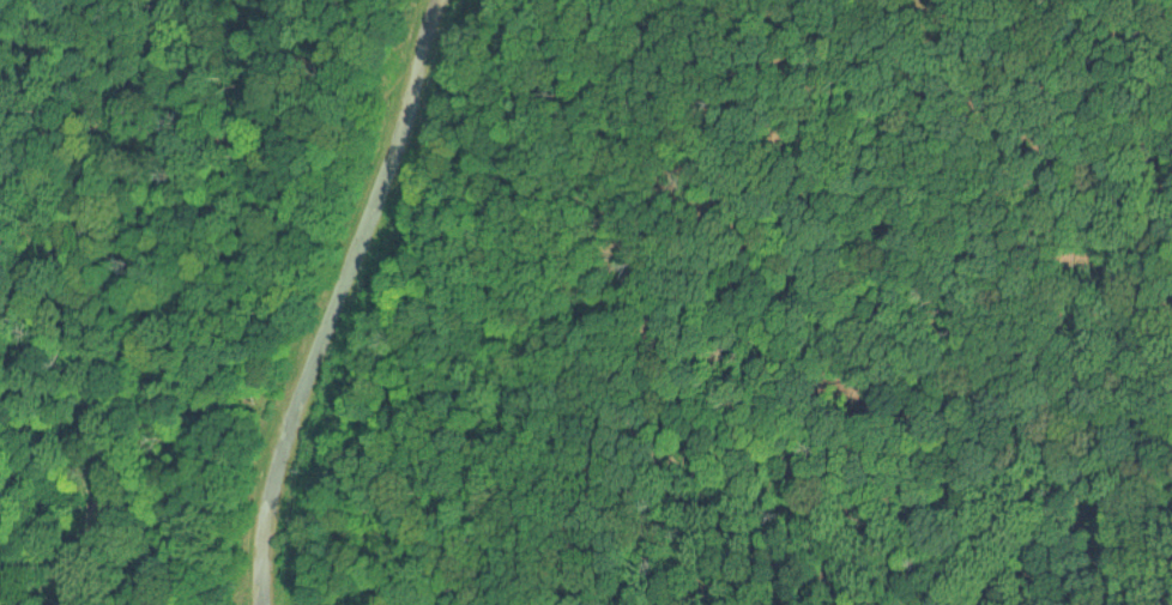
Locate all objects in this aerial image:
road: (940, 1)
road: (1068, 1)
road: (53, 162)
road: (648, 219)
road: (198, 290)
road: (331, 298)

